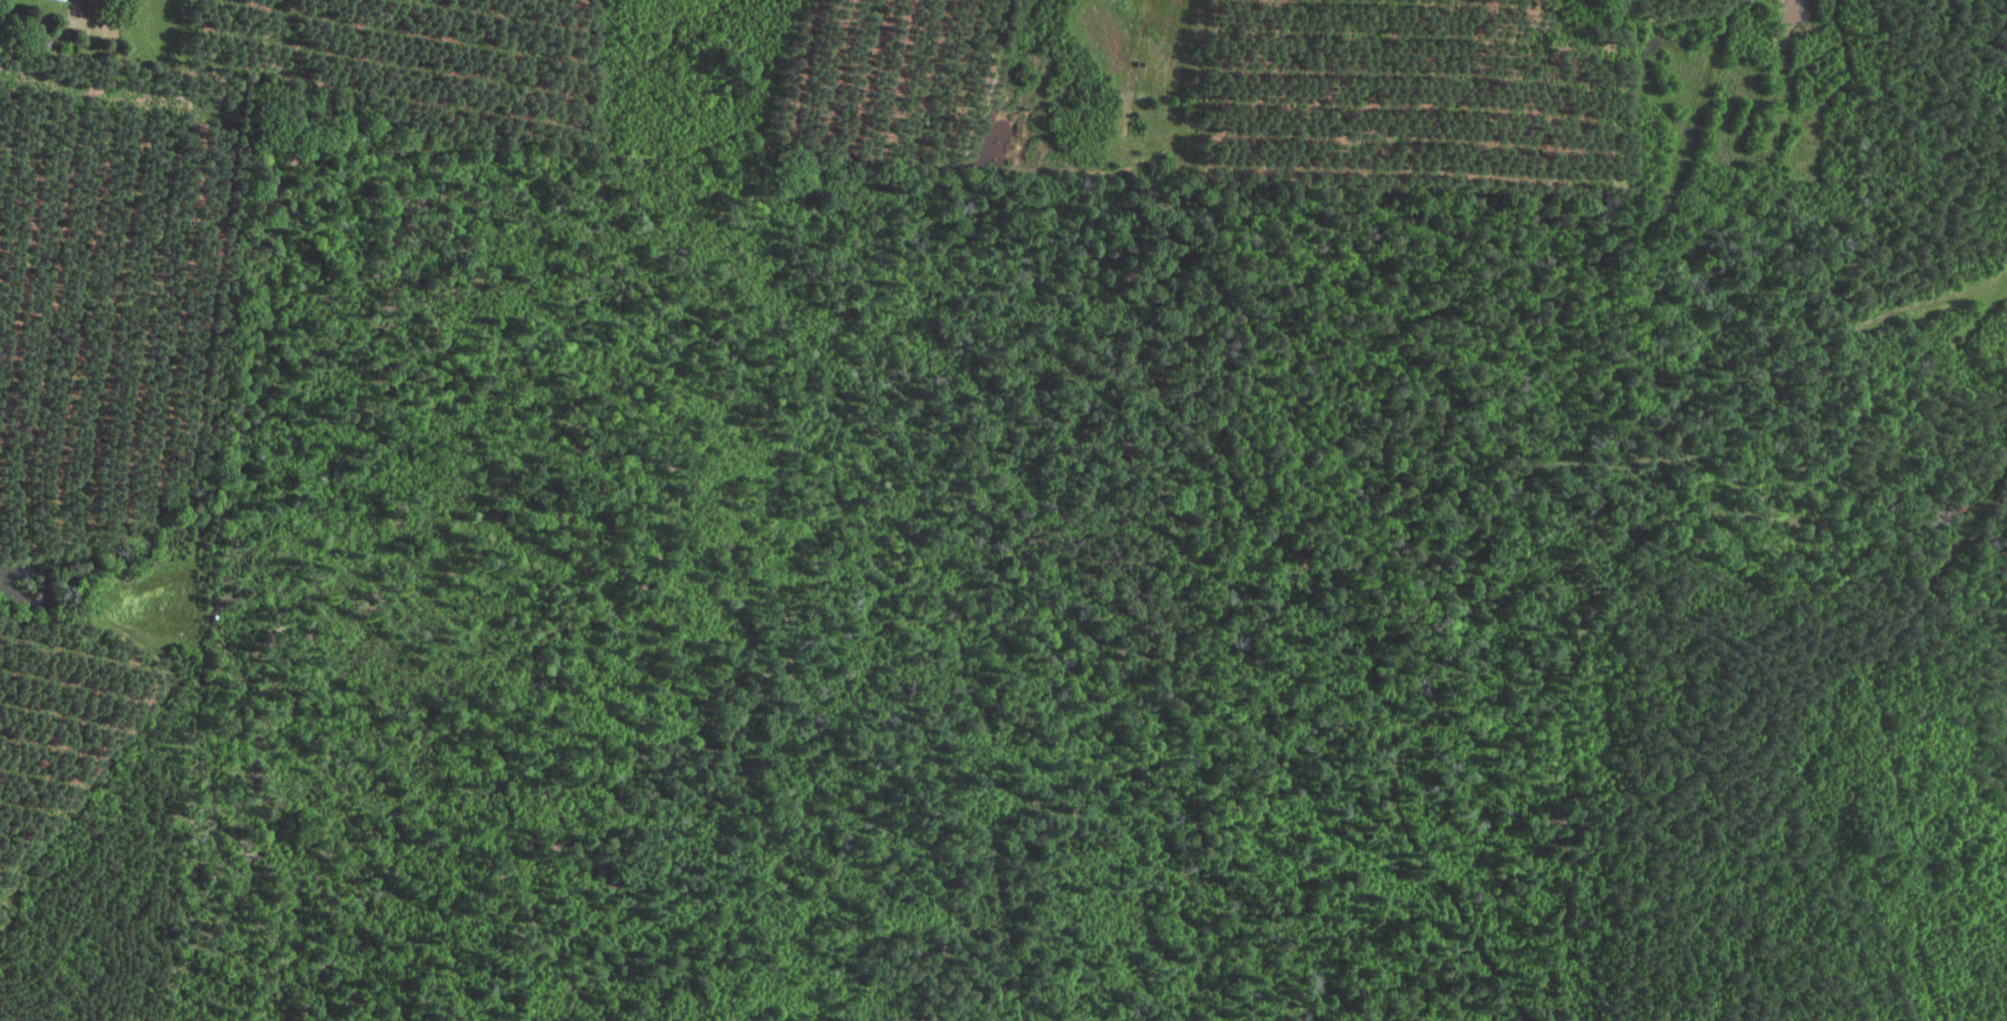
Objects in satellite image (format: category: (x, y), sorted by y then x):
building: (66, 0)

